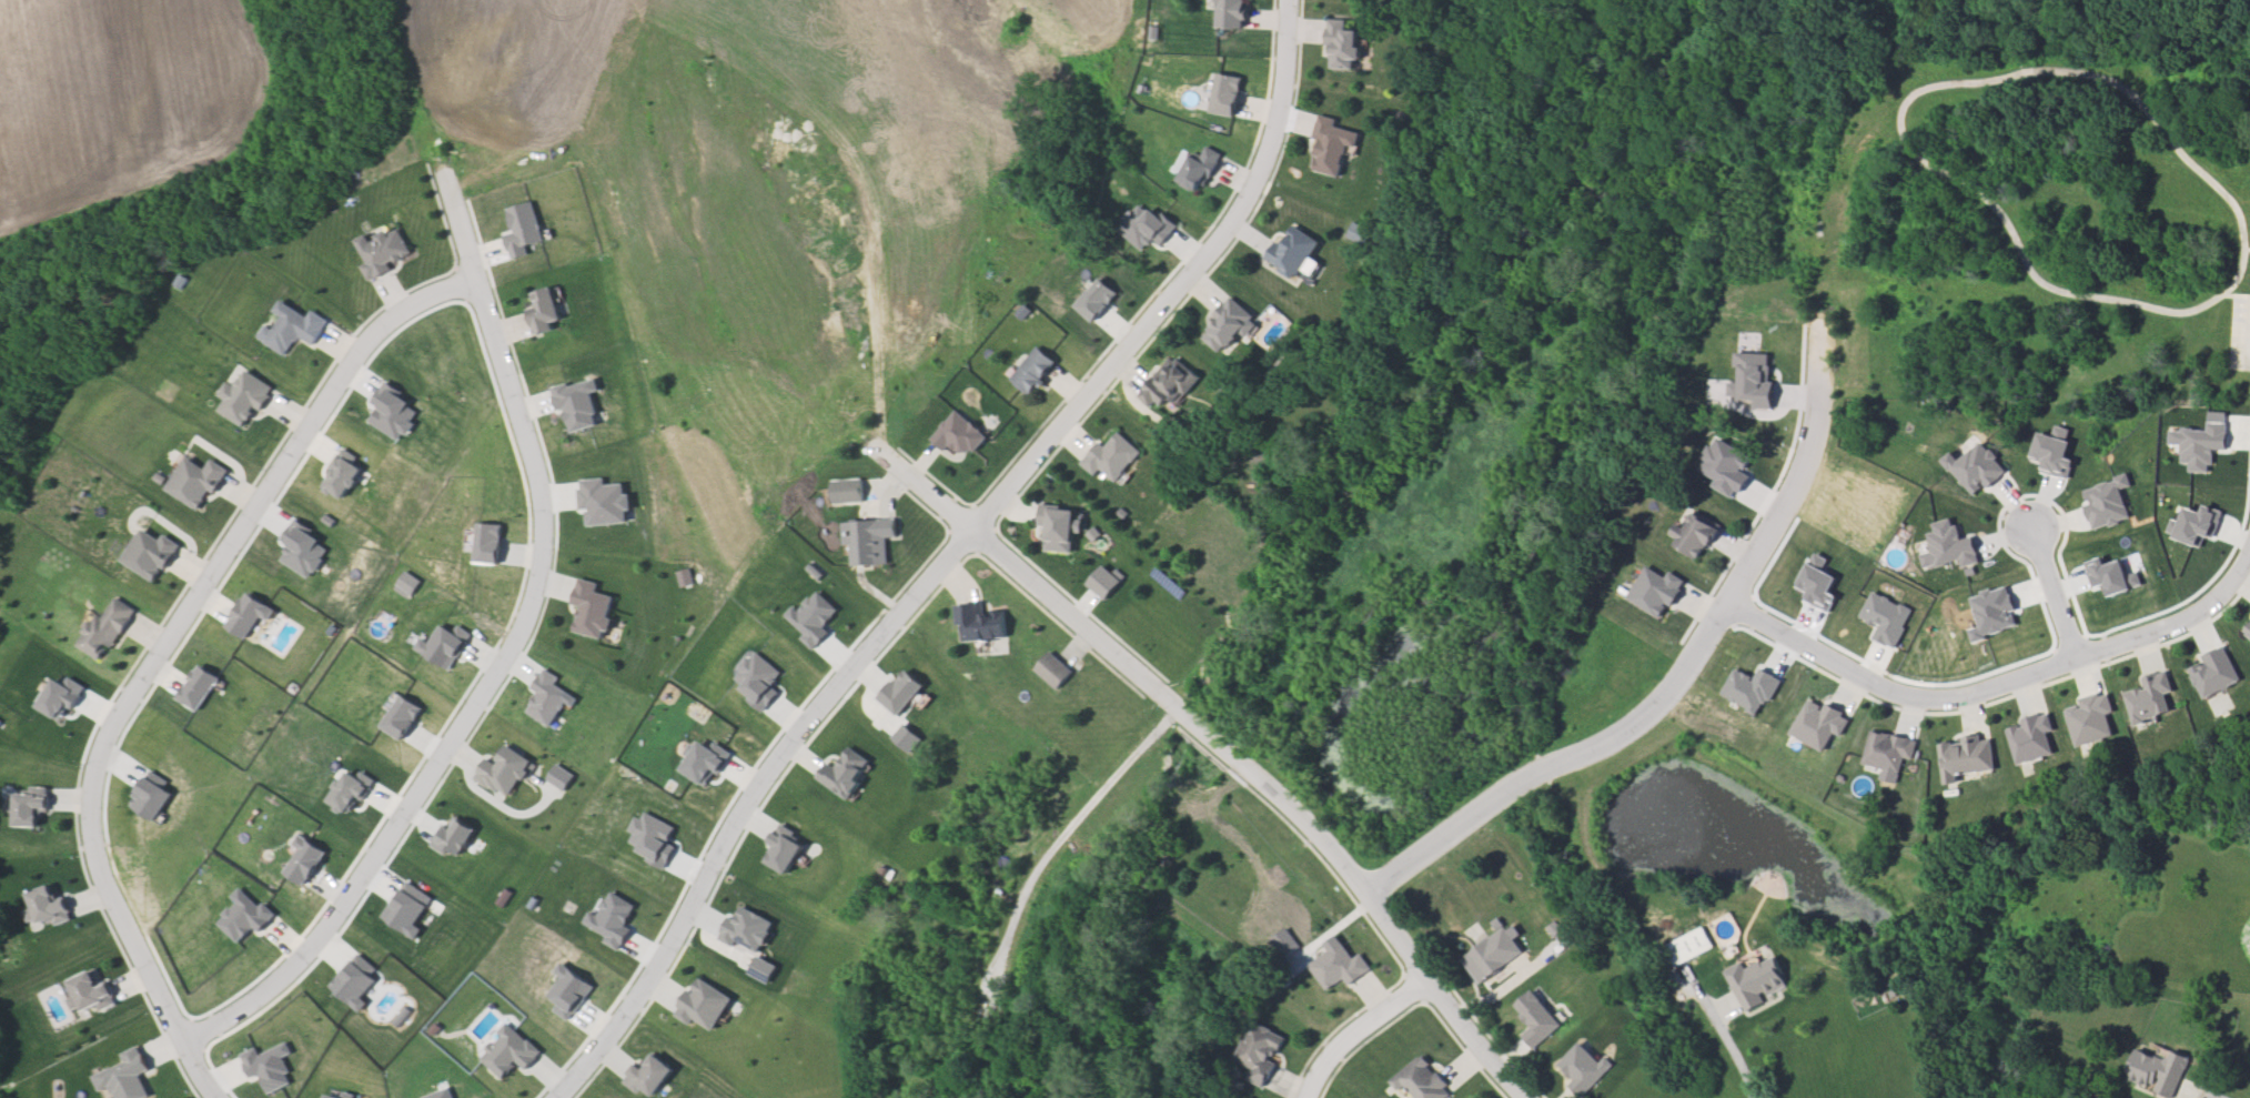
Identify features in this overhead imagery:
building: (1232, 11)
building: (1342, 39)
road: (1924, 88)
crop: (785, 95)
crop: (120, 99)
building: (1333, 145)
building: (1201, 167)
park: (1869, 179)
road: (2246, 249)
building: (1294, 251)
building: (384, 252)
building: (545, 311)
building: (1023, 313)
building: (1230, 329)
building: (291, 331)
building: (1033, 370)
building: (1168, 386)
building: (960, 437)
building: (1112, 459)
building: (194, 481)
building: (848, 493)
building: (1058, 527)
building: (1092, 535)
building: (1695, 535)
building: (868, 543)
building: (150, 554)
road: (955, 558)
road: (2054, 592)
building: (594, 607)
road: (182, 622)
building: (980, 622)
building: (107, 626)
building: (2248, 633)
road: (505, 653)
building: (1053, 669)
building: (2217, 678)
road: (1998, 682)
road: (1673, 685)
building: (2152, 696)
road: (1219, 751)
building: (1889, 753)
building: (1968, 757)
road: (1058, 838)
building: (1552, 929)
building: (1688, 946)
building: (1492, 954)
building: (1335, 967)
building: (1758, 979)
building: (92, 994)
building: (705, 1000)
building: (1534, 1019)
road: (1354, 1030)
road: (1724, 1038)
building: (1259, 1050)
building: (1583, 1068)
building: (2159, 1068)
road: (202, 1070)
building: (650, 1074)
building: (1421, 1081)

